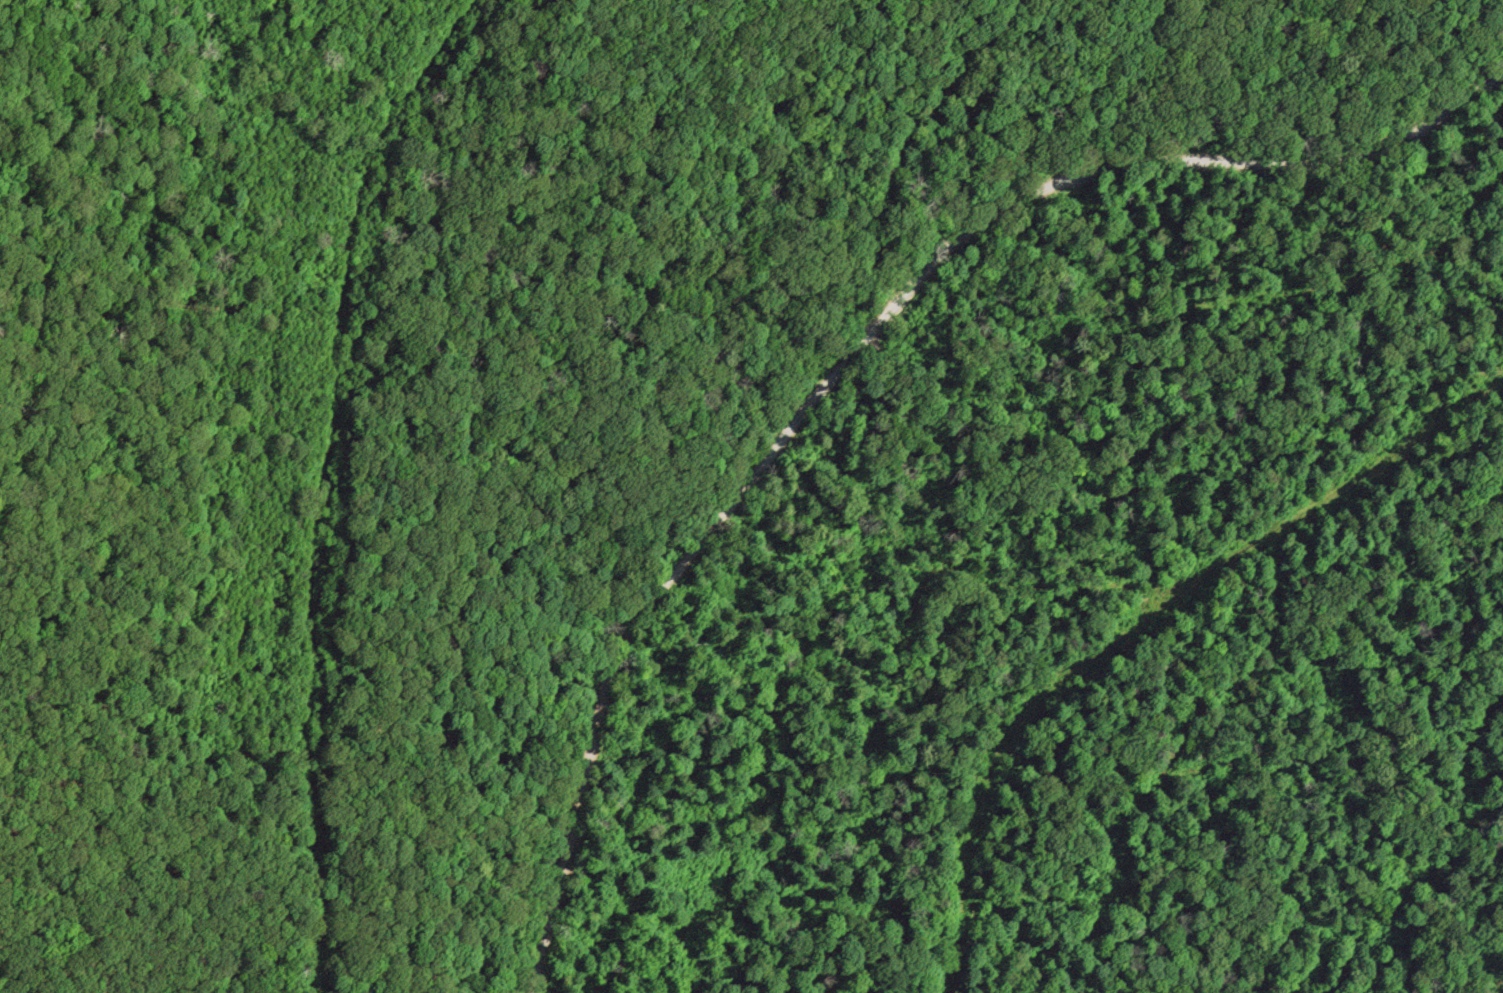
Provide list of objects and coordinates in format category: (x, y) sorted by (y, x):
road: (855, 349)

